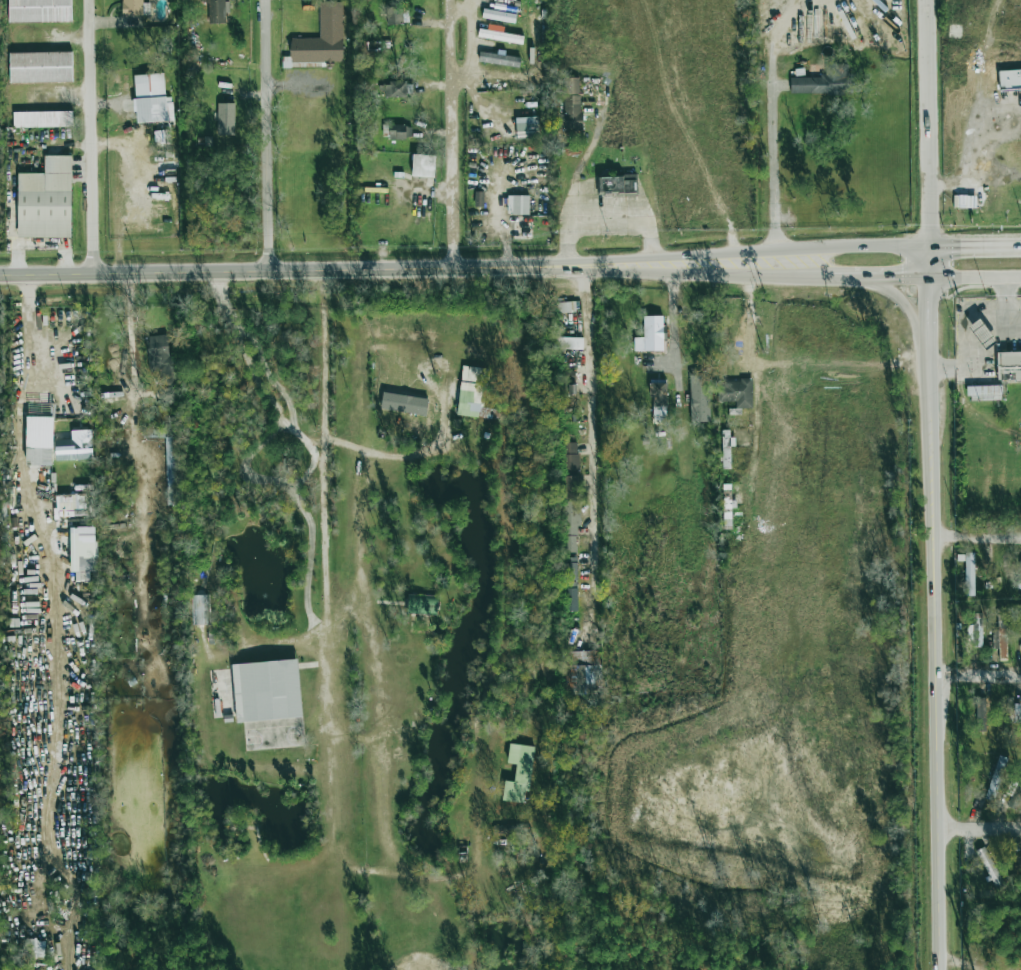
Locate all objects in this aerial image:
building: (513, 0)
building: (134, 7)
building: (39, 11)
building: (217, 11)
road: (459, 14)
building: (393, 16)
building: (498, 16)
building: (498, 34)
building: (322, 38)
road: (771, 43)
road: (469, 50)
building: (499, 59)
building: (40, 67)
building: (1009, 79)
building: (822, 81)
building: (393, 89)
building: (151, 100)
building: (571, 104)
building: (42, 119)
building: (225, 119)
road: (925, 122)
building: (526, 127)
building: (399, 132)
road: (449, 134)
road: (264, 135)
road: (90, 137)
building: (422, 166)
road: (774, 168)
road: (578, 170)
building: (616, 185)
building: (45, 200)
building: (964, 201)
building: (517, 204)
road: (607, 225)
road: (974, 243)
road: (878, 245)
road: (652, 250)
road: (566, 255)
road: (665, 256)
road: (251, 271)
road: (648, 271)
road: (811, 277)
road: (878, 278)
road: (974, 280)
road: (1010, 304)
building: (565, 307)
road: (928, 308)
road: (908, 312)
road: (673, 318)
road: (747, 320)
road: (31, 328)
building: (981, 332)
gas station: (981, 332)
building: (652, 333)
building: (569, 343)
building: (160, 358)
road: (981, 362)
building: (1009, 366)
building: (566, 382)
building: (983, 390)
building: (470, 391)
building: (735, 393)
road: (133, 394)
building: (166, 395)
building: (699, 398)
building: (658, 399)
building: (39, 434)
building: (74, 446)
road: (325, 447)
road: (593, 454)
building: (570, 456)
road: (384, 460)
building: (173, 470)
building: (571, 487)
building: (71, 503)
building: (570, 517)
road: (976, 536)
building: (569, 545)
building: (82, 549)
building: (569, 568)
building: (969, 574)
building: (569, 584)
building: (570, 600)
building: (200, 610)
building: (977, 629)
building: (1000, 634)
building: (582, 672)
road: (933, 672)
road: (977, 676)
building: (266, 690)
building: (1009, 705)
building: (979, 714)
building: (518, 772)
building: (996, 778)
building: (1014, 793)
road: (978, 829)
building: (1019, 863)
building: (34, 948)
road: (979, 964)

